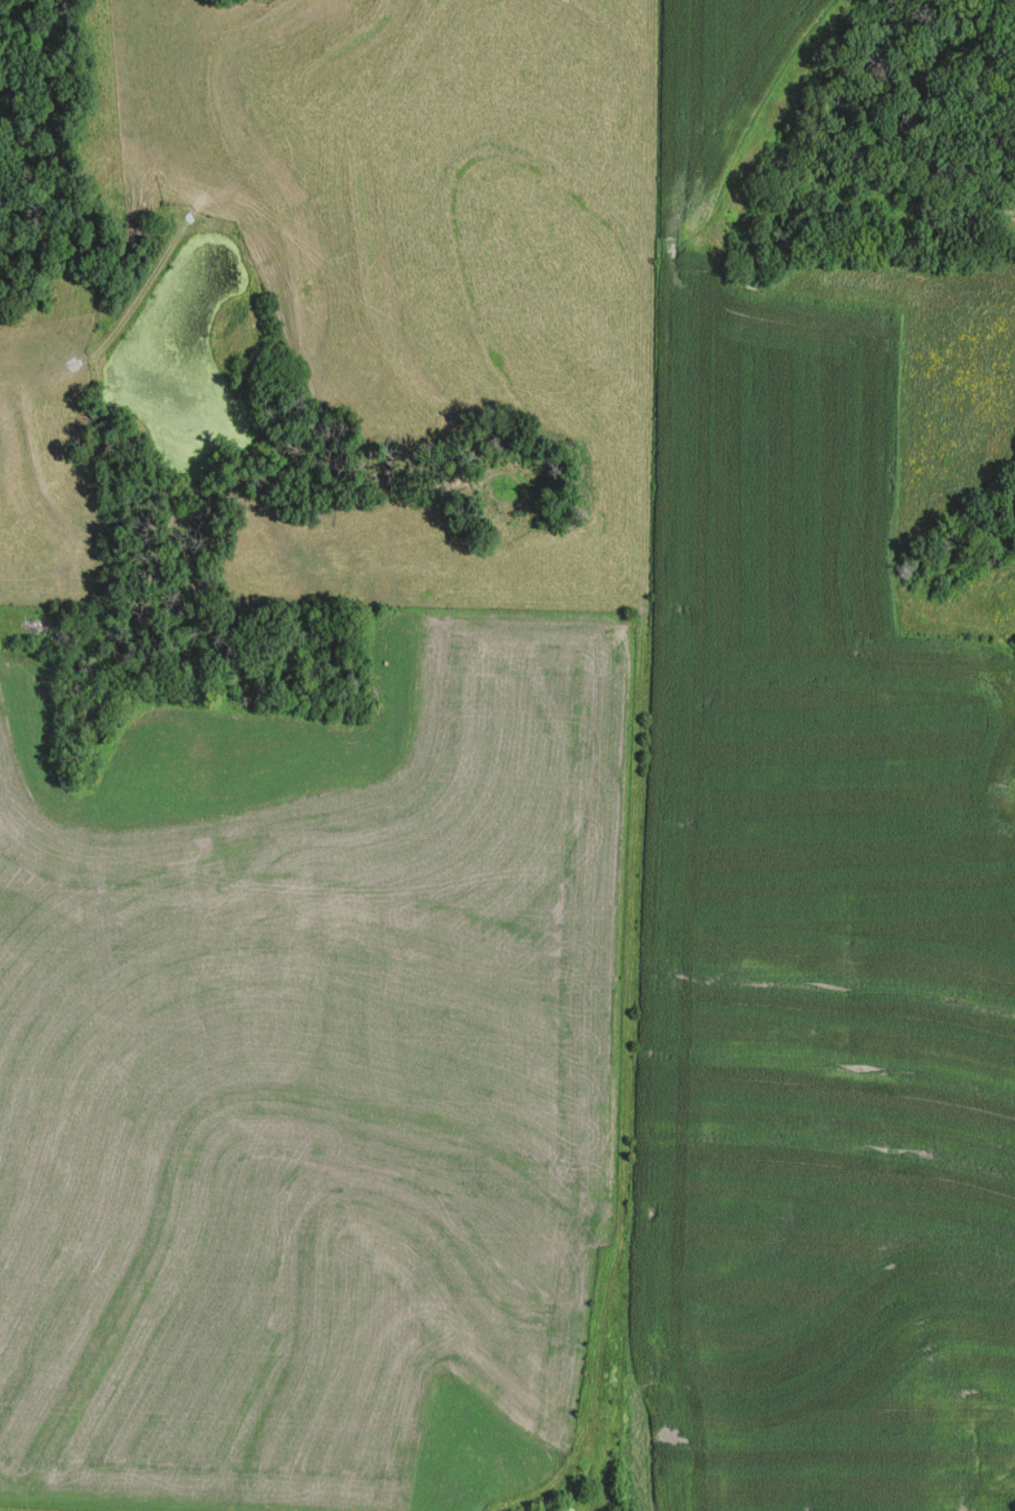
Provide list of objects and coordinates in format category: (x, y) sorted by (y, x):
crop: (311, 1067)
crop: (825, 1069)
crop: (40, 1508)

